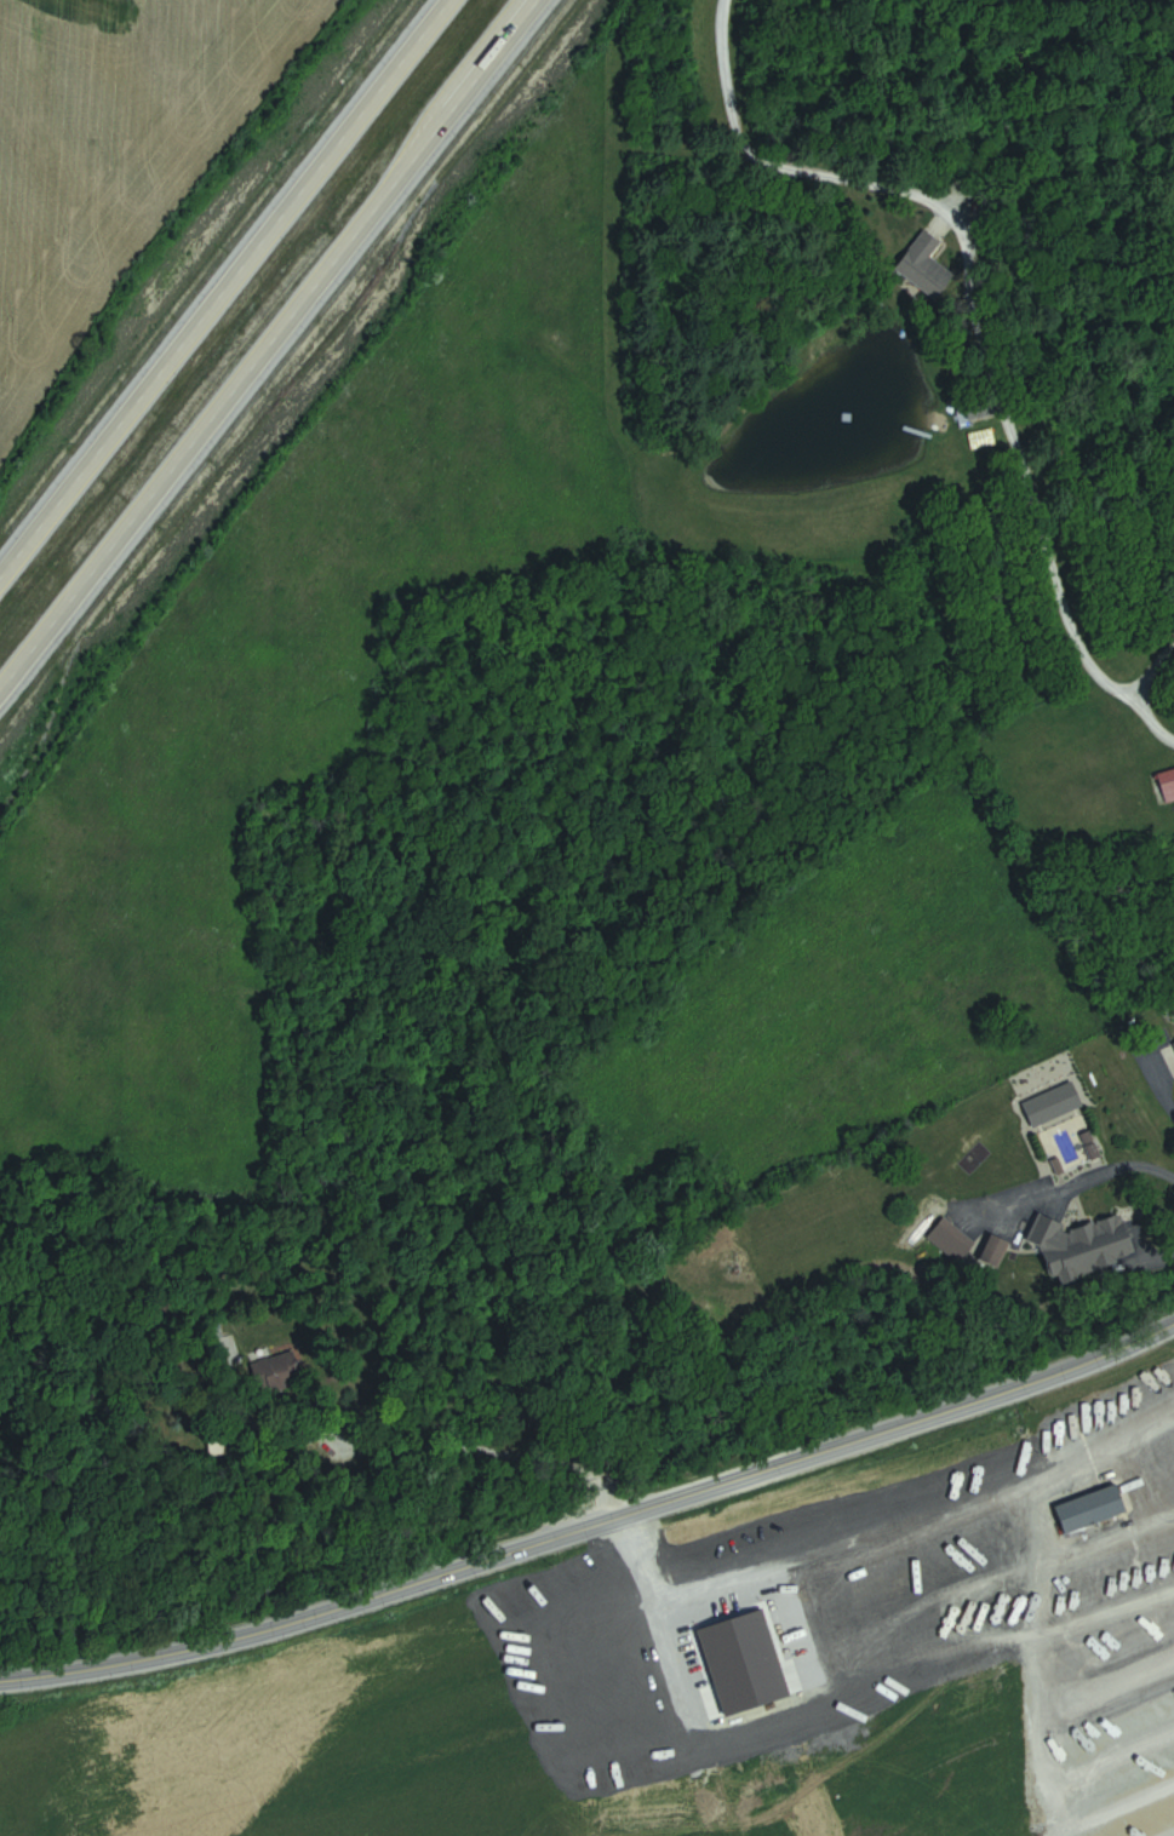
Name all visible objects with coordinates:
road: (217, 281)
road: (973, 316)
road: (264, 340)
building: (1168, 785)
road: (1060, 1203)
road: (477, 1446)
building: (1095, 1507)
road: (591, 1519)
road: (1071, 1620)
road: (531, 1647)
road: (556, 1711)
road: (1041, 1734)

